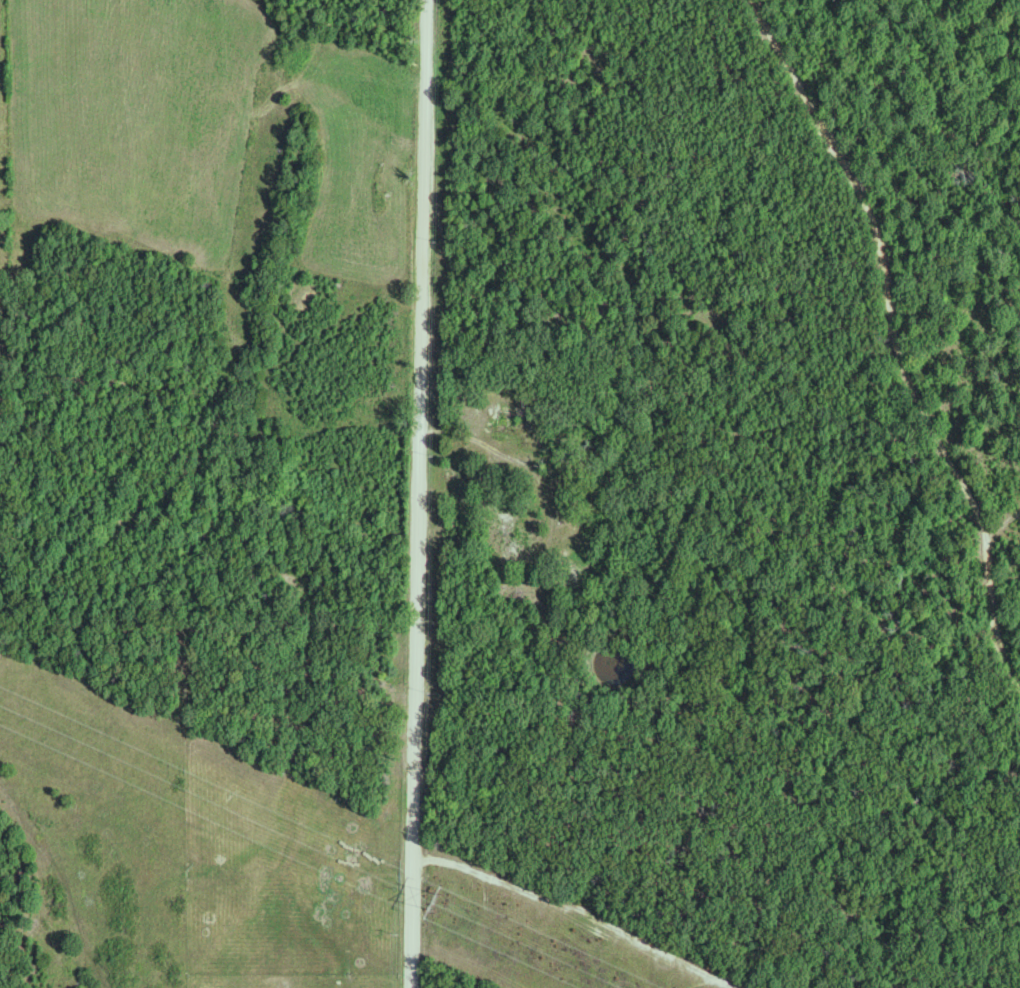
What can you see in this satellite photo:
road: (891, 338)
road: (520, 463)
road: (418, 493)
road: (1004, 523)
power tower: (432, 899)

